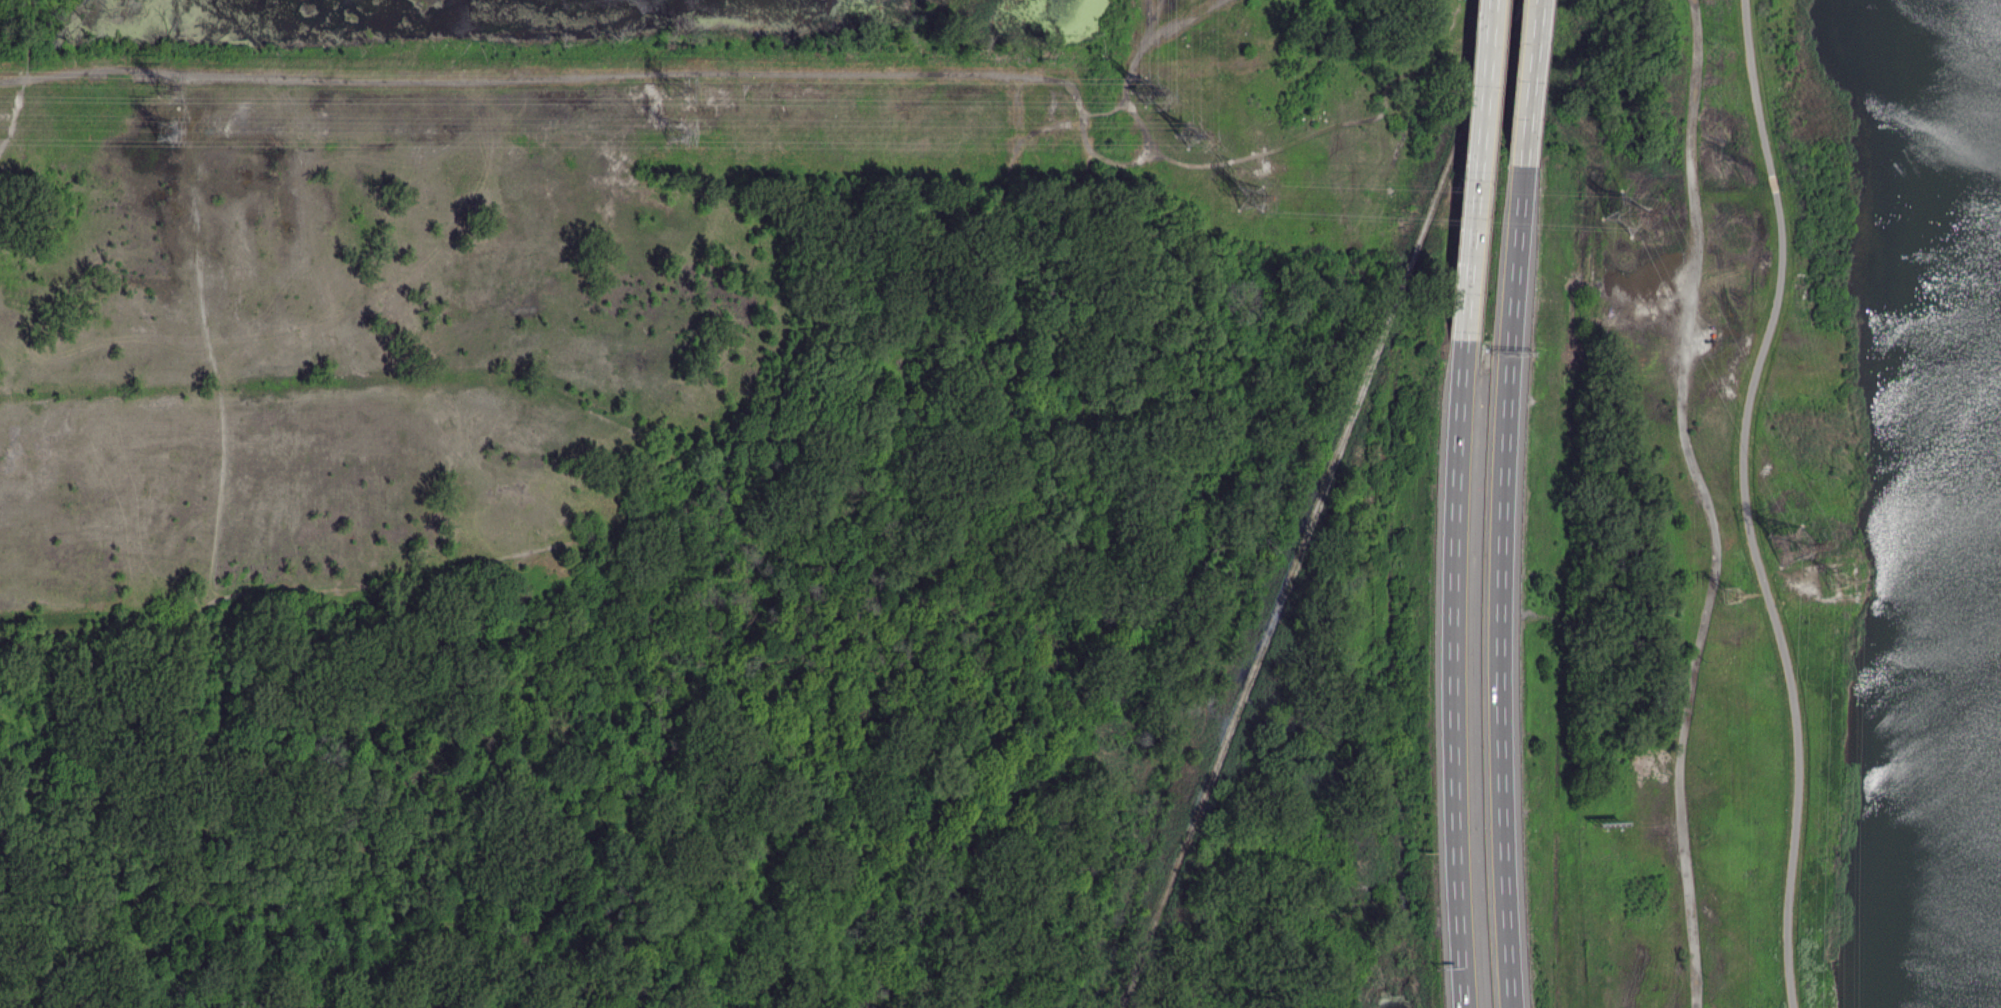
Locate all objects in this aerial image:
road: (22, 80)
road: (1534, 82)
road: (1752, 86)
power tower: (1142, 91)
power tower: (173, 94)
power tower: (682, 94)
power tower: (1190, 133)
power tower: (170, 137)
power tower: (684, 137)
road: (1478, 170)
road: (1772, 181)
power tower: (1255, 194)
power tower: (1628, 213)
road: (1519, 271)
road: (1461, 412)
road: (1710, 503)
railway: (1319, 504)
power tower: (1795, 549)
power tower: (1839, 586)
power tower: (1736, 597)
road: (1765, 597)
road: (1502, 693)
road: (1455, 747)

